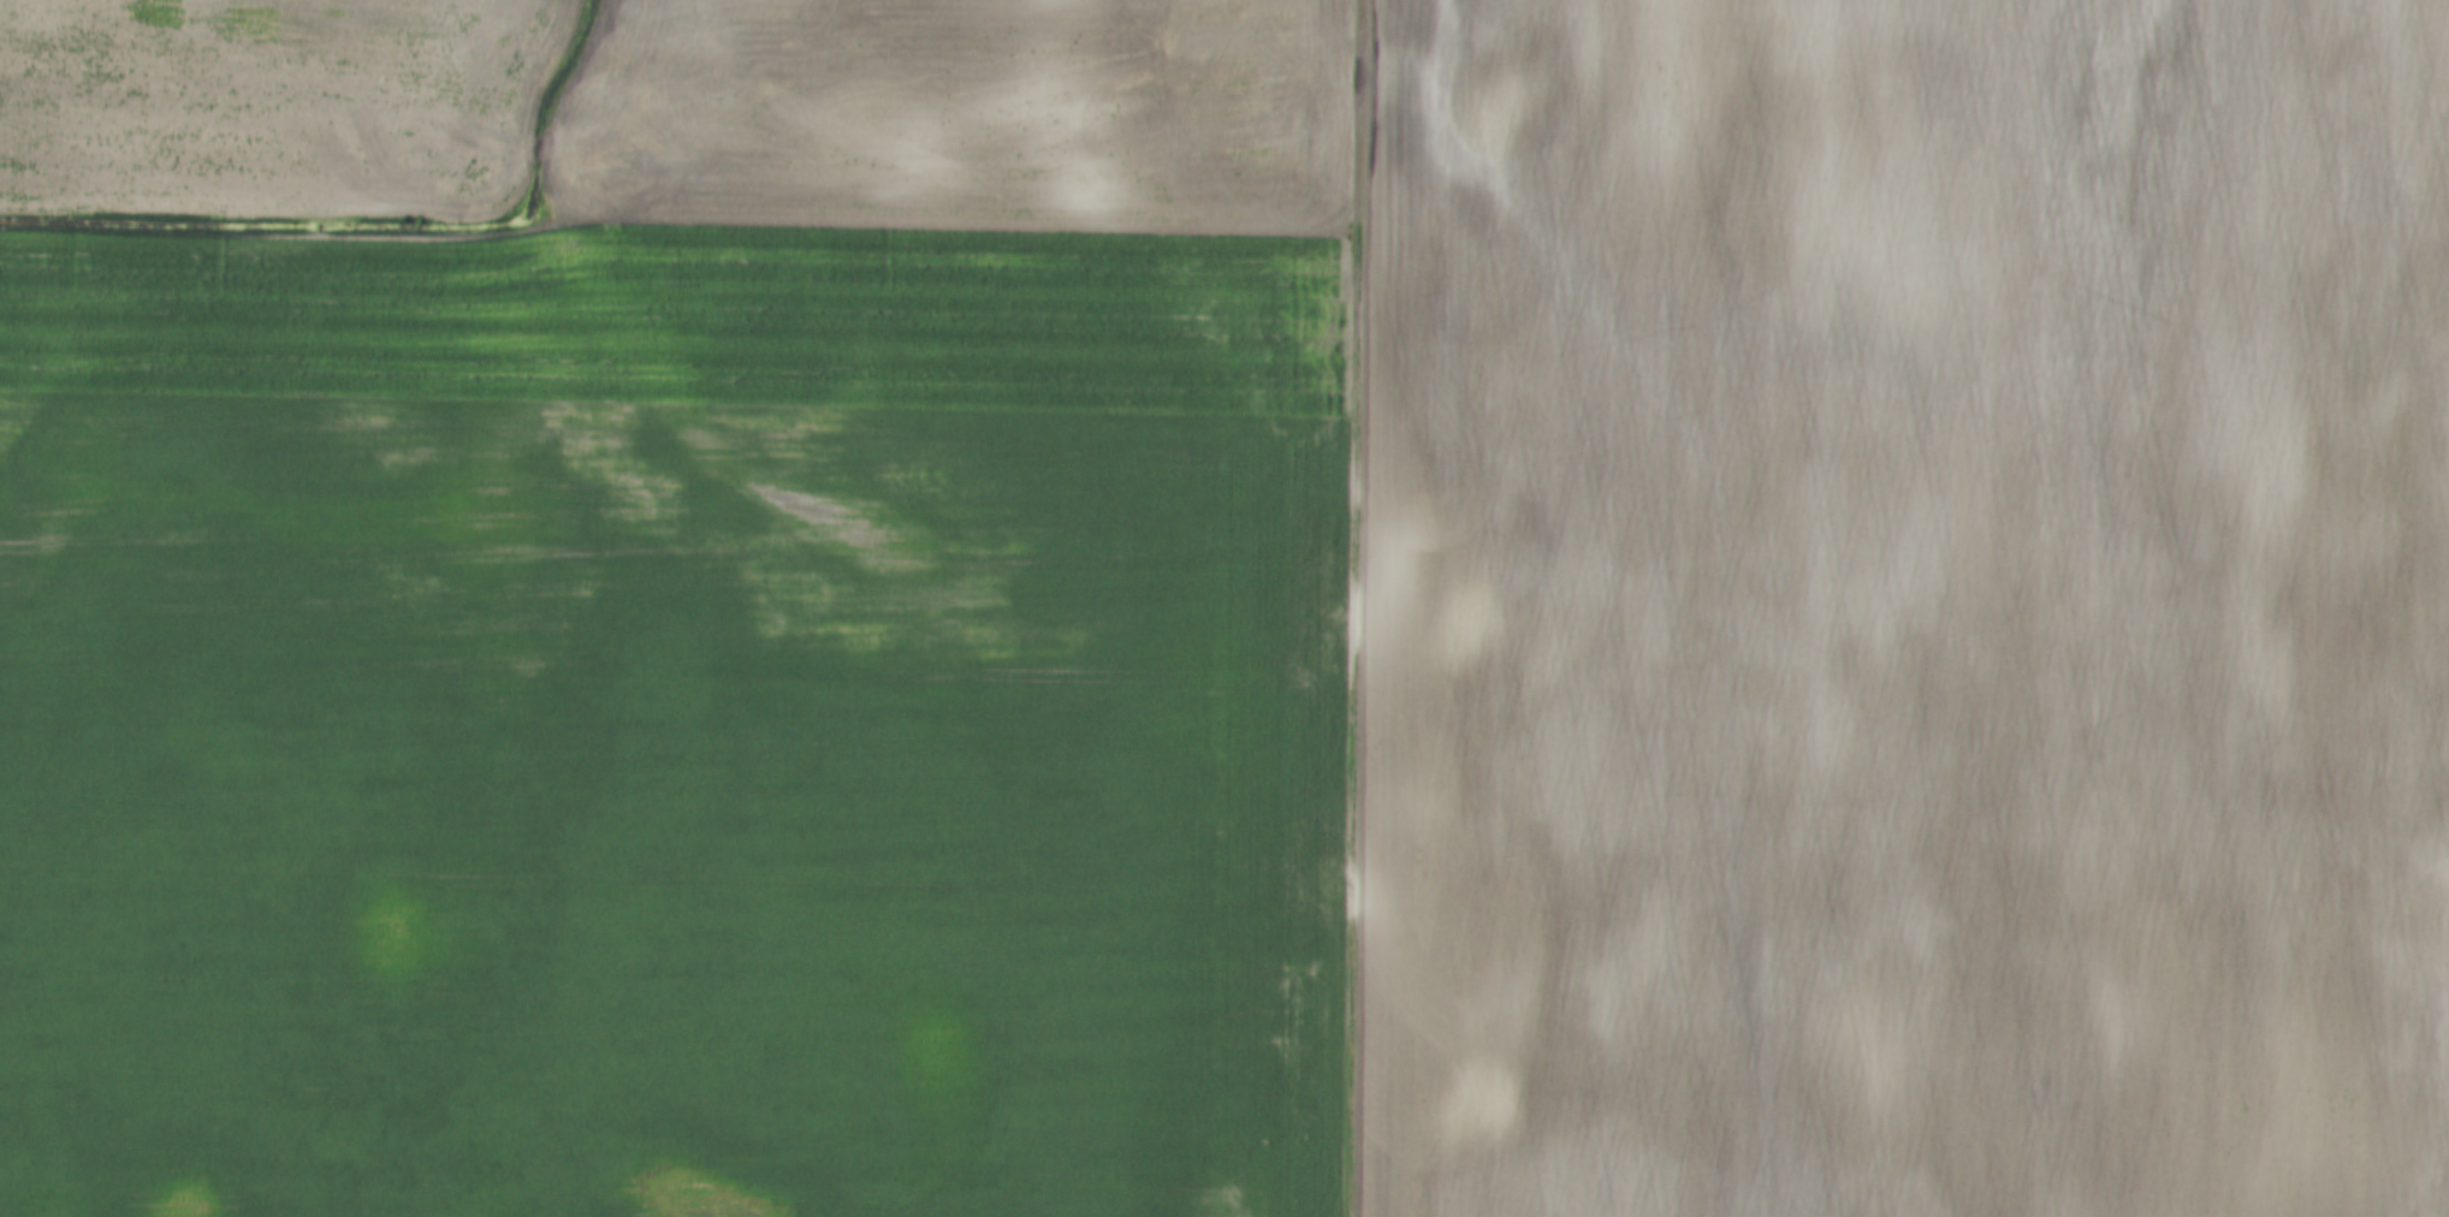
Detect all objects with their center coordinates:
road: (1359, 607)

